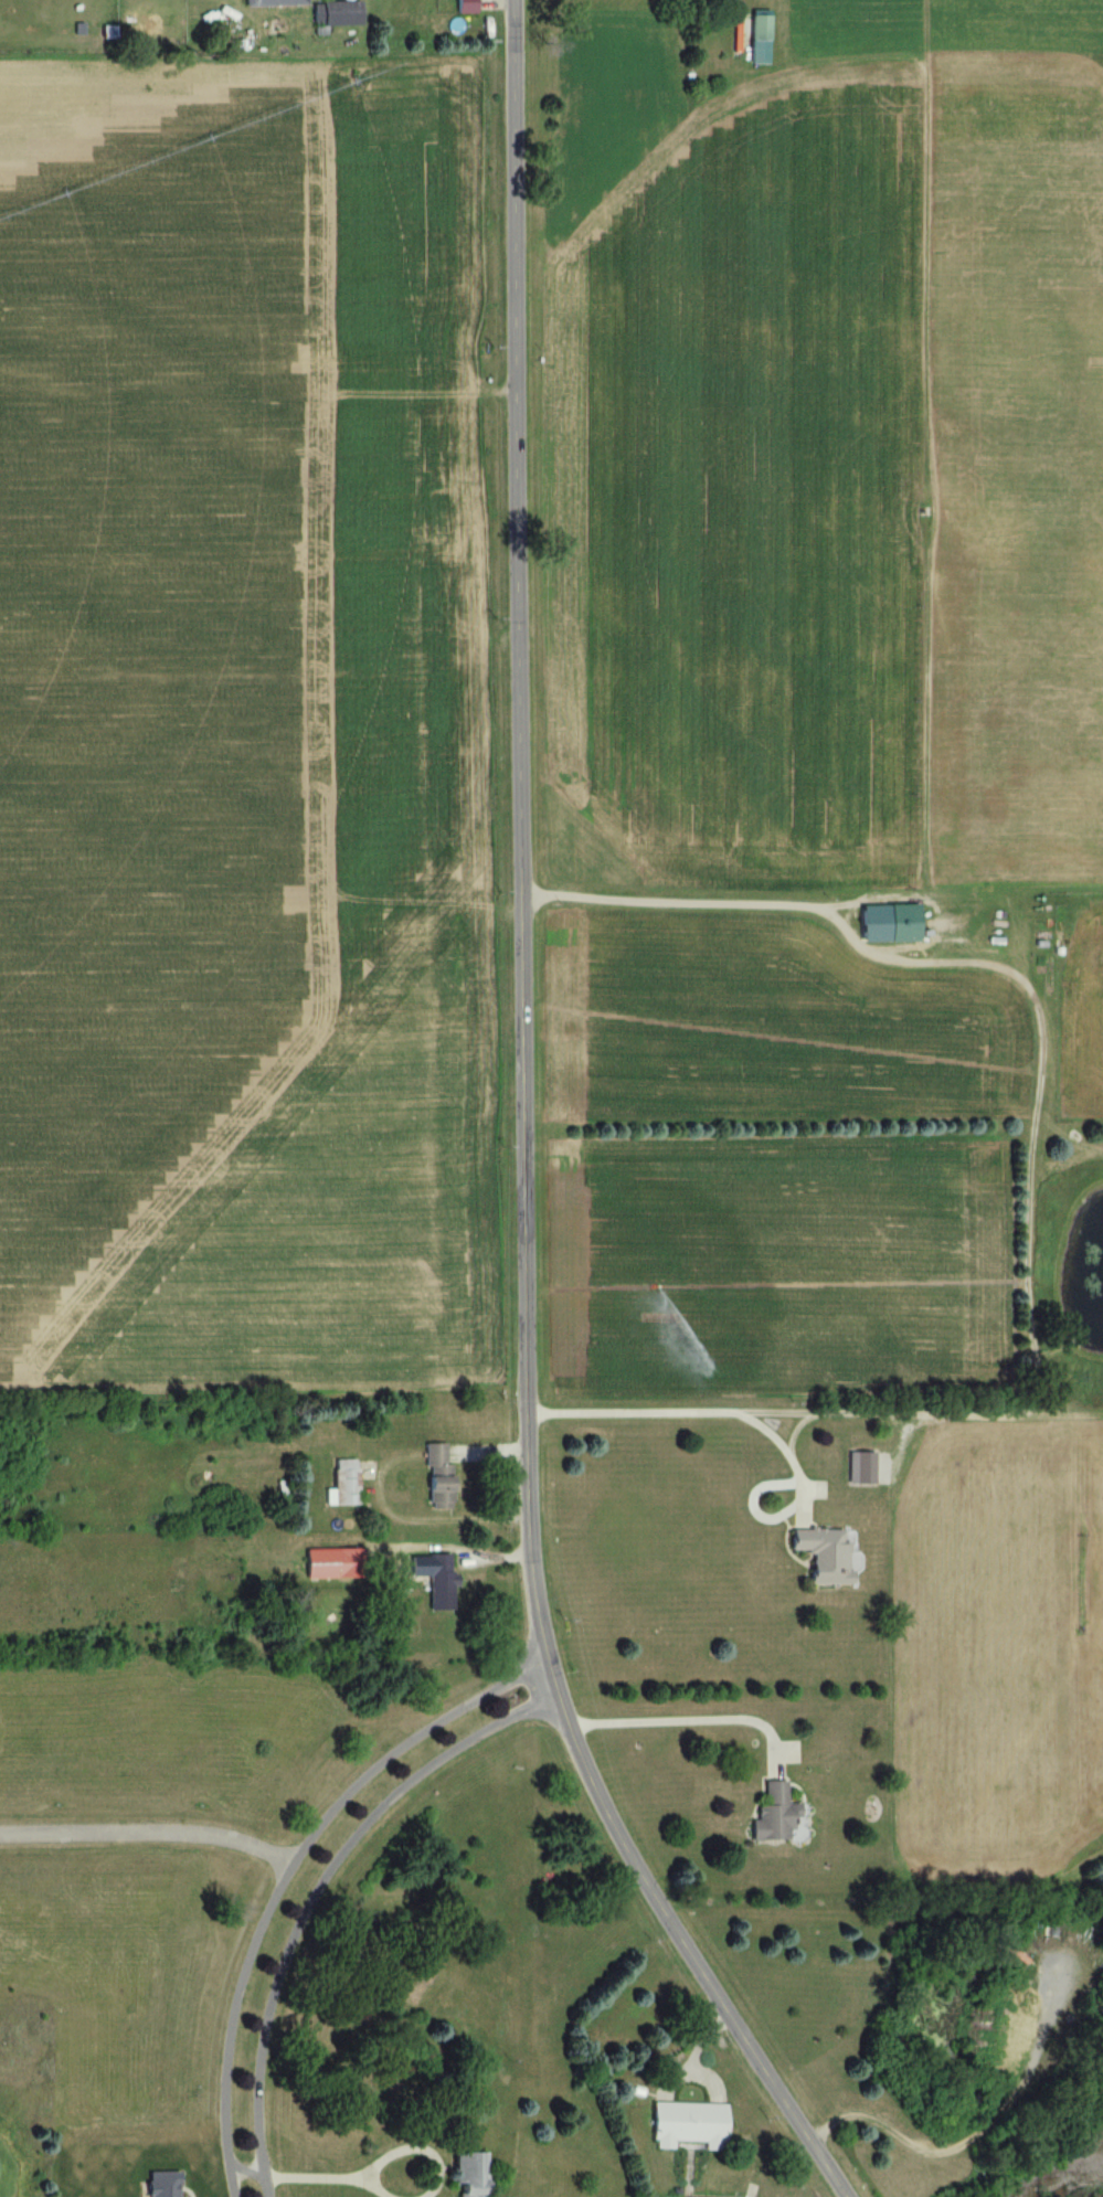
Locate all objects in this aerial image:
building: (273, 2)
building: (464, 7)
building: (333, 14)
building: (760, 28)
crop: (243, 731)
road: (683, 903)
building: (888, 923)
road: (519, 1138)
road: (685, 1413)
building: (432, 1478)
building: (341, 1483)
building: (819, 1554)
building: (328, 1564)
building: (431, 1580)
road: (688, 1720)
building: (772, 1814)
road: (149, 1833)
road: (287, 1872)
road: (315, 1893)
building: (686, 2126)
road: (976, 2133)
park: (50, 2148)
building: (466, 2174)
river: (1075, 2183)

